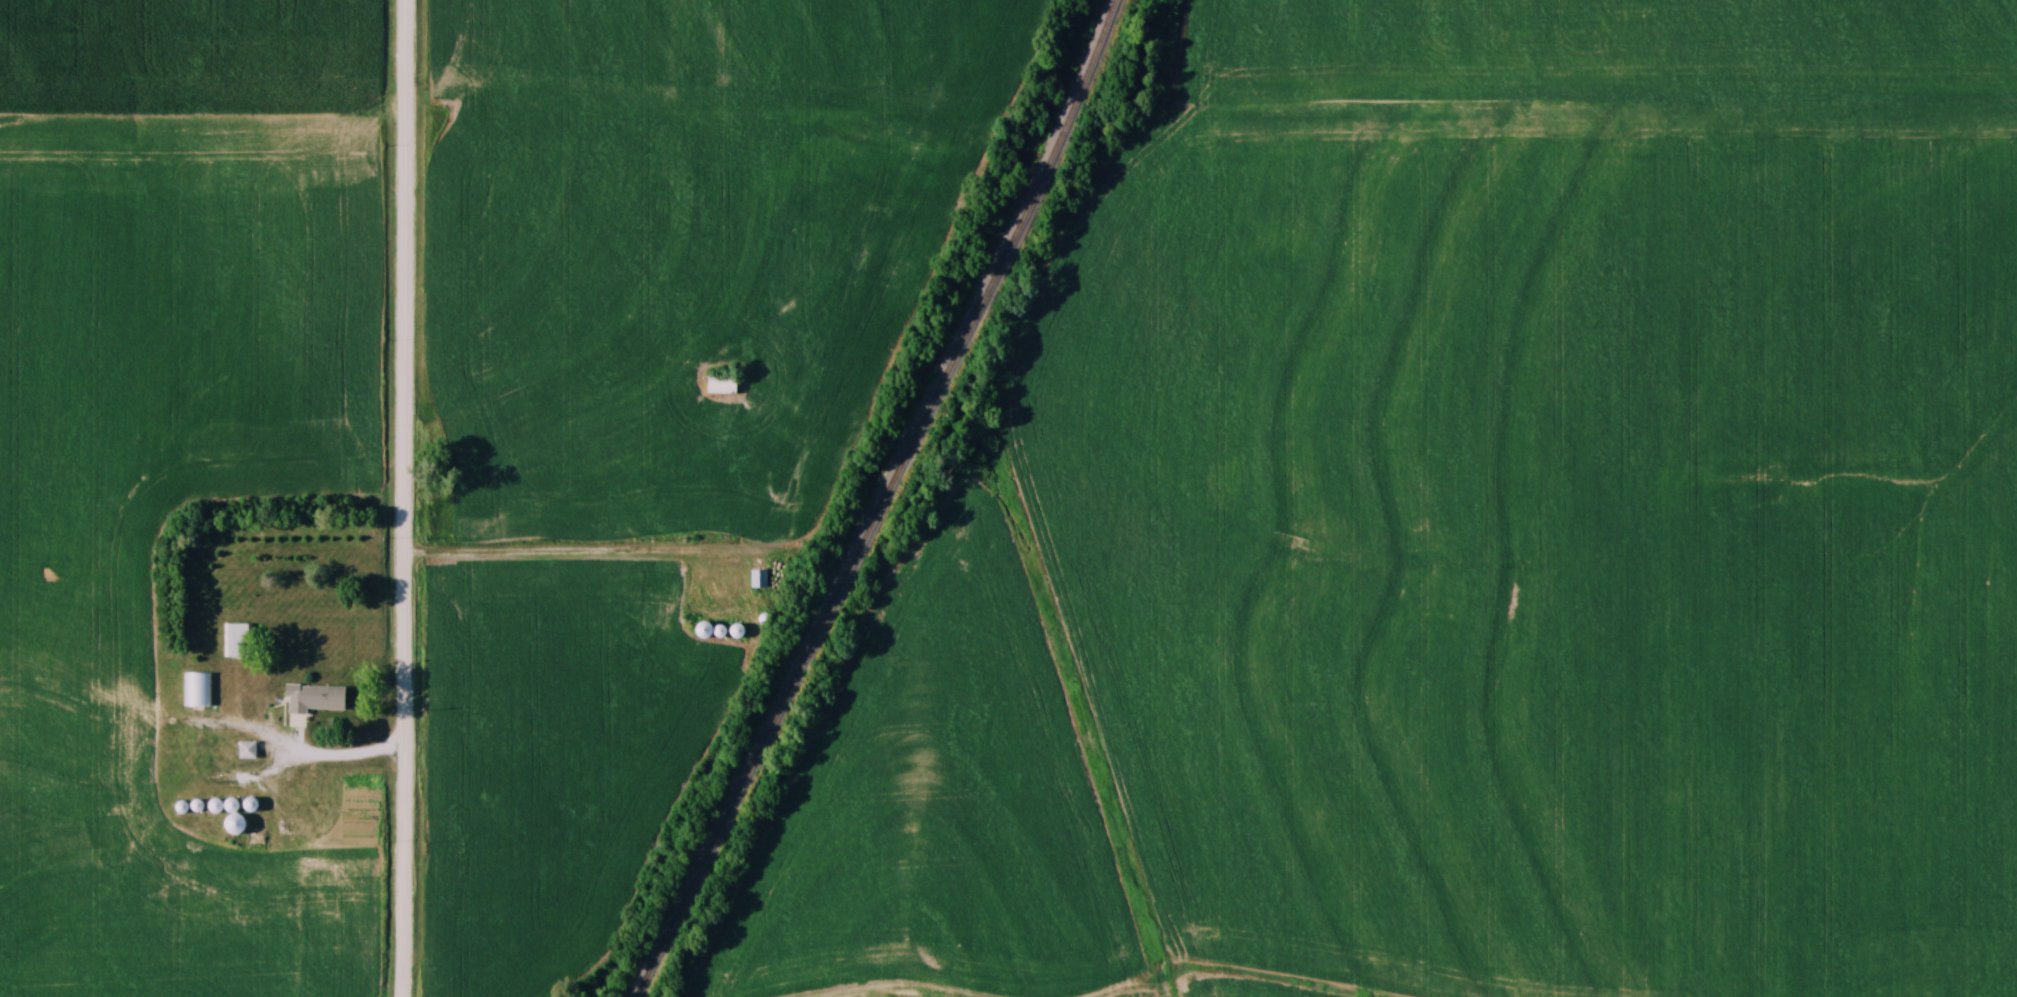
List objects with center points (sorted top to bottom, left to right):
building: (720, 384)
road: (404, 498)
railway: (891, 502)
road: (570, 552)
building: (757, 578)
building: (702, 630)
building: (234, 640)
building: (196, 690)
building: (315, 697)
building: (245, 750)
road: (298, 759)
building: (213, 806)
building: (232, 818)

